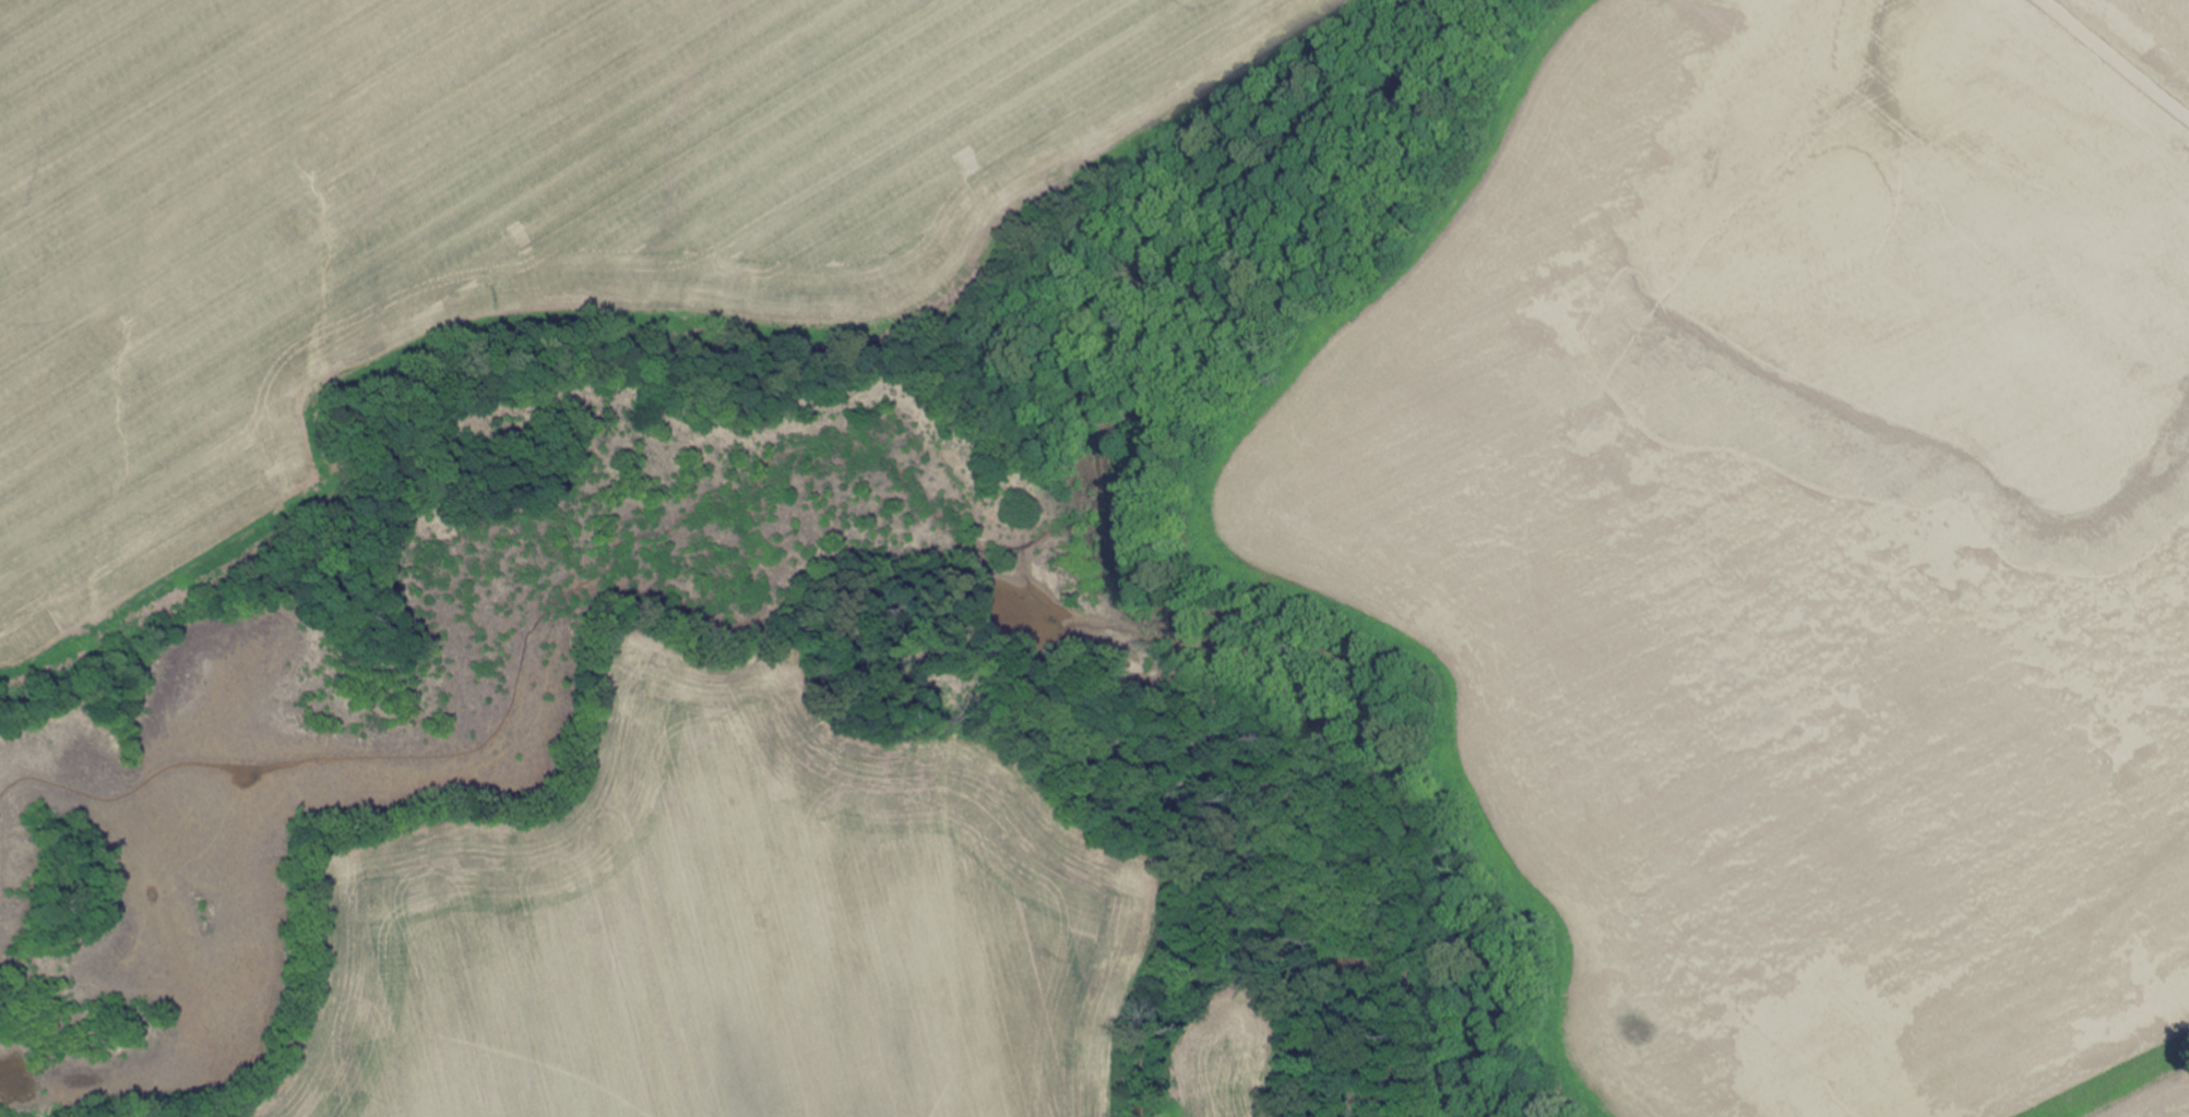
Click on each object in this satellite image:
road: (2115, 60)

